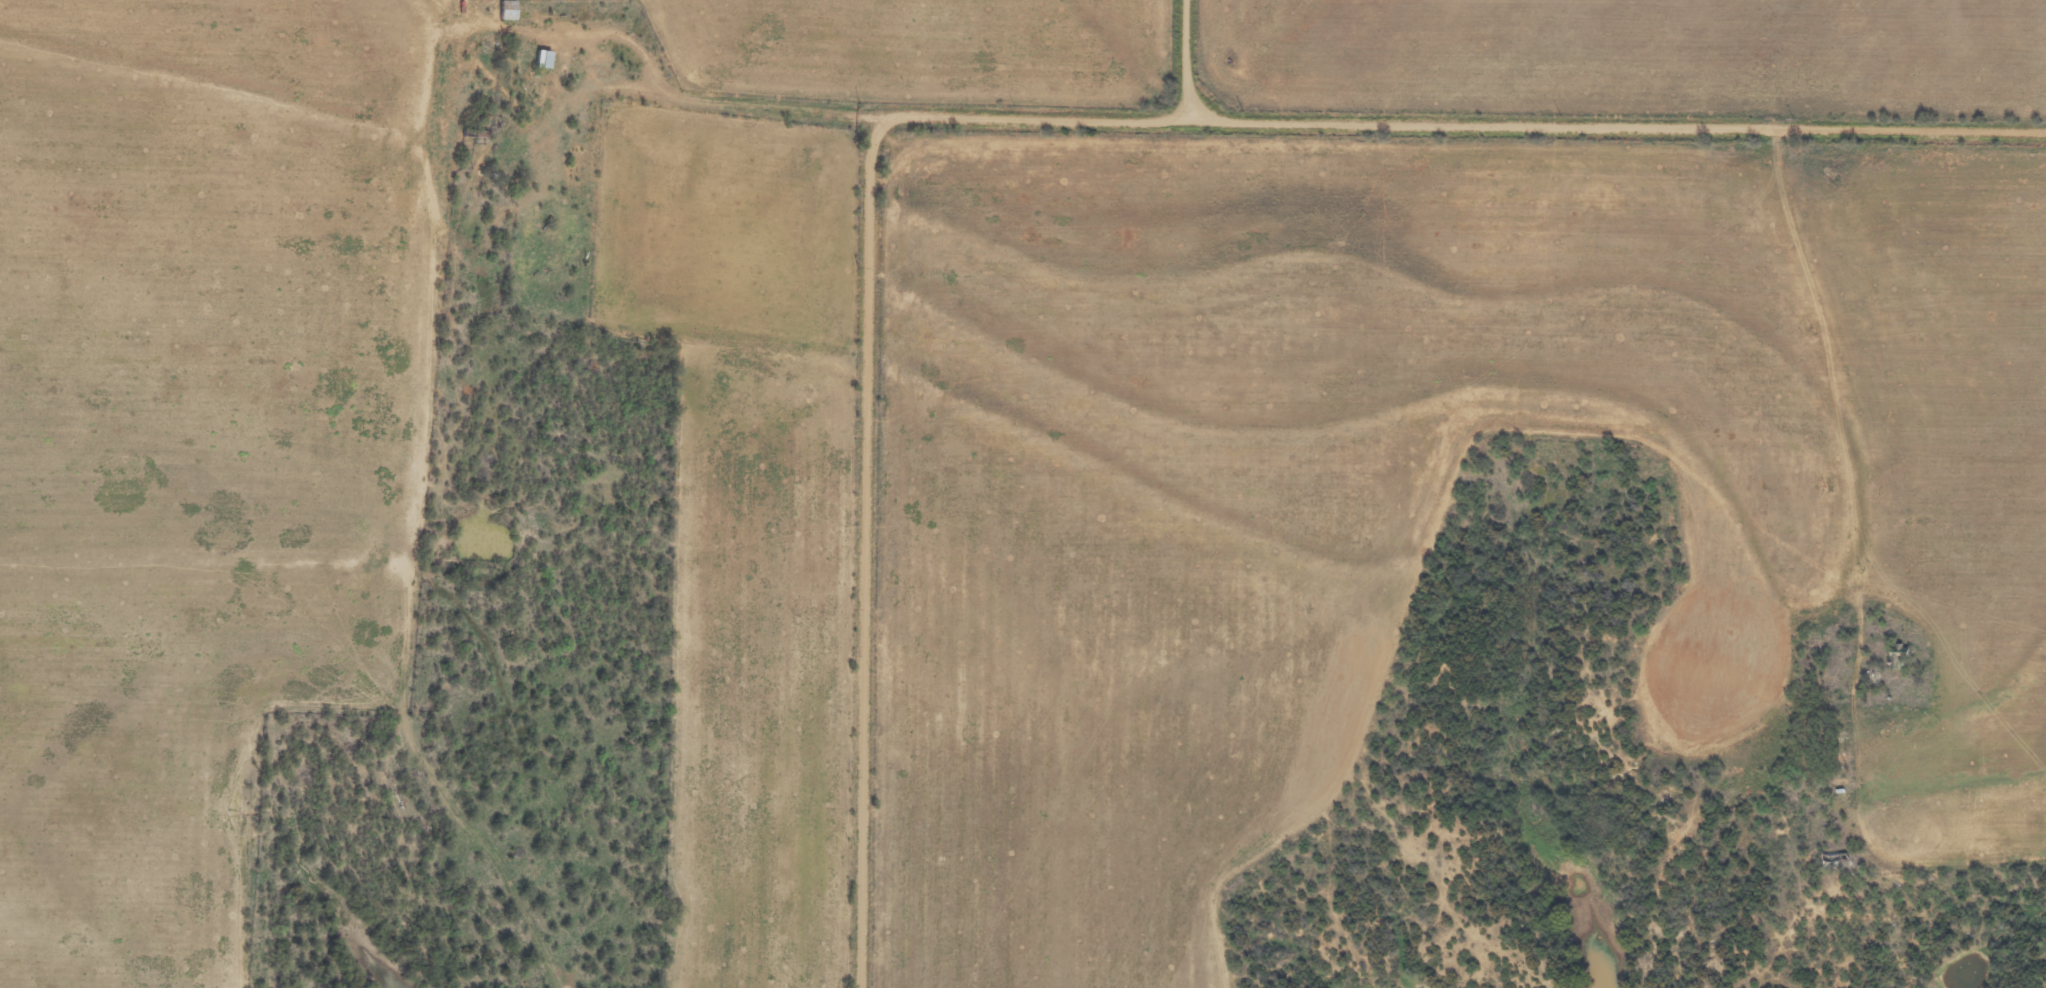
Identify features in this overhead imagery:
building: (506, 10)
building: (542, 59)
road: (1607, 124)
building: (473, 136)
road: (873, 351)
road: (439, 366)
building: (1896, 659)

